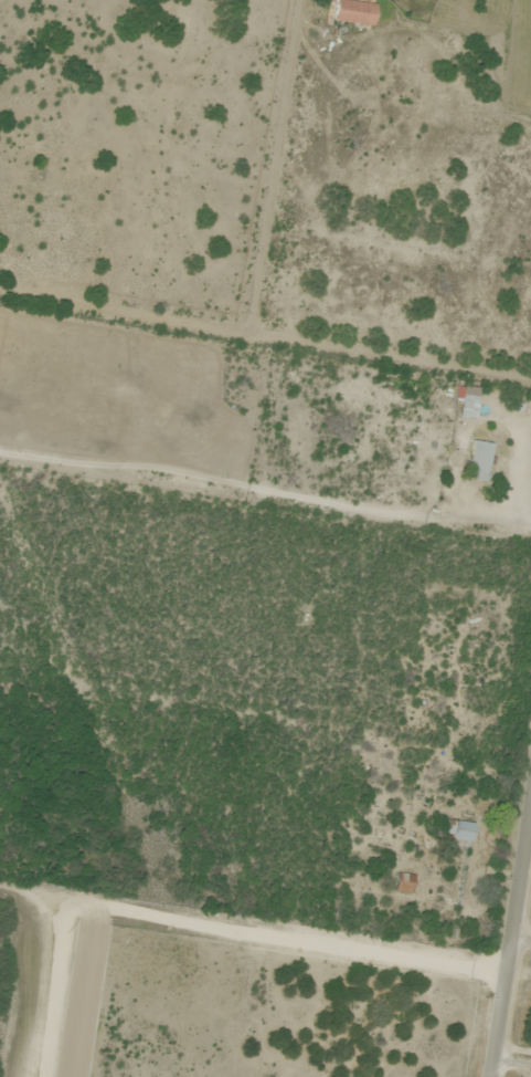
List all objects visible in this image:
building: (354, 12)
road: (265, 342)
building: (468, 407)
building: (479, 461)
road: (530, 816)
building: (460, 834)
building: (406, 883)
road: (199, 923)
road: (510, 942)

